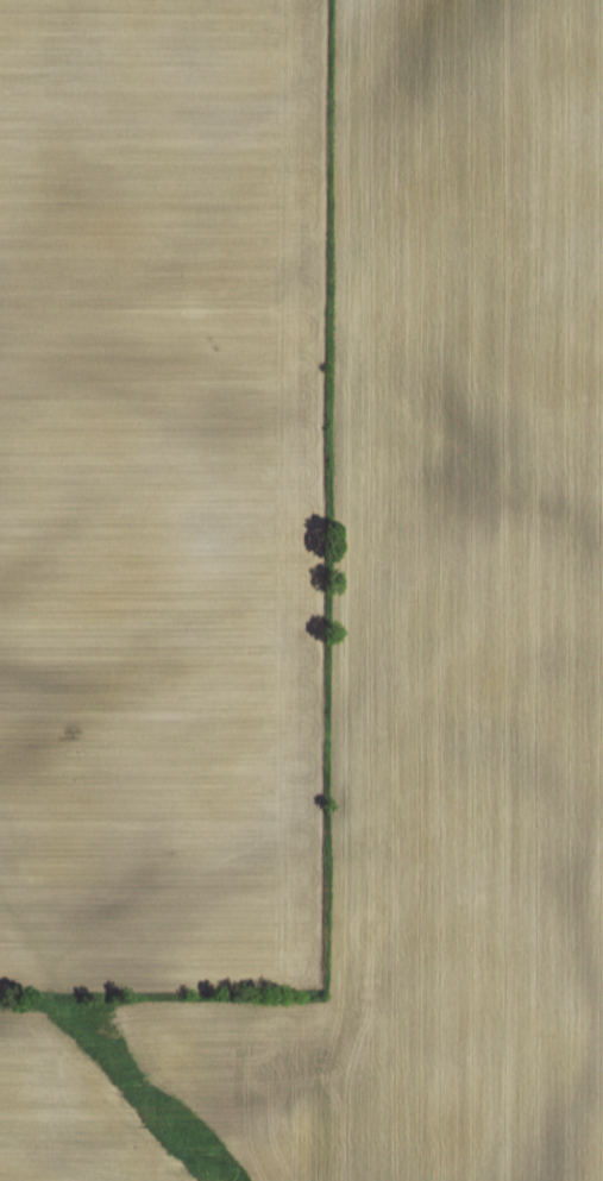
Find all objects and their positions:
crop: (301, 590)

